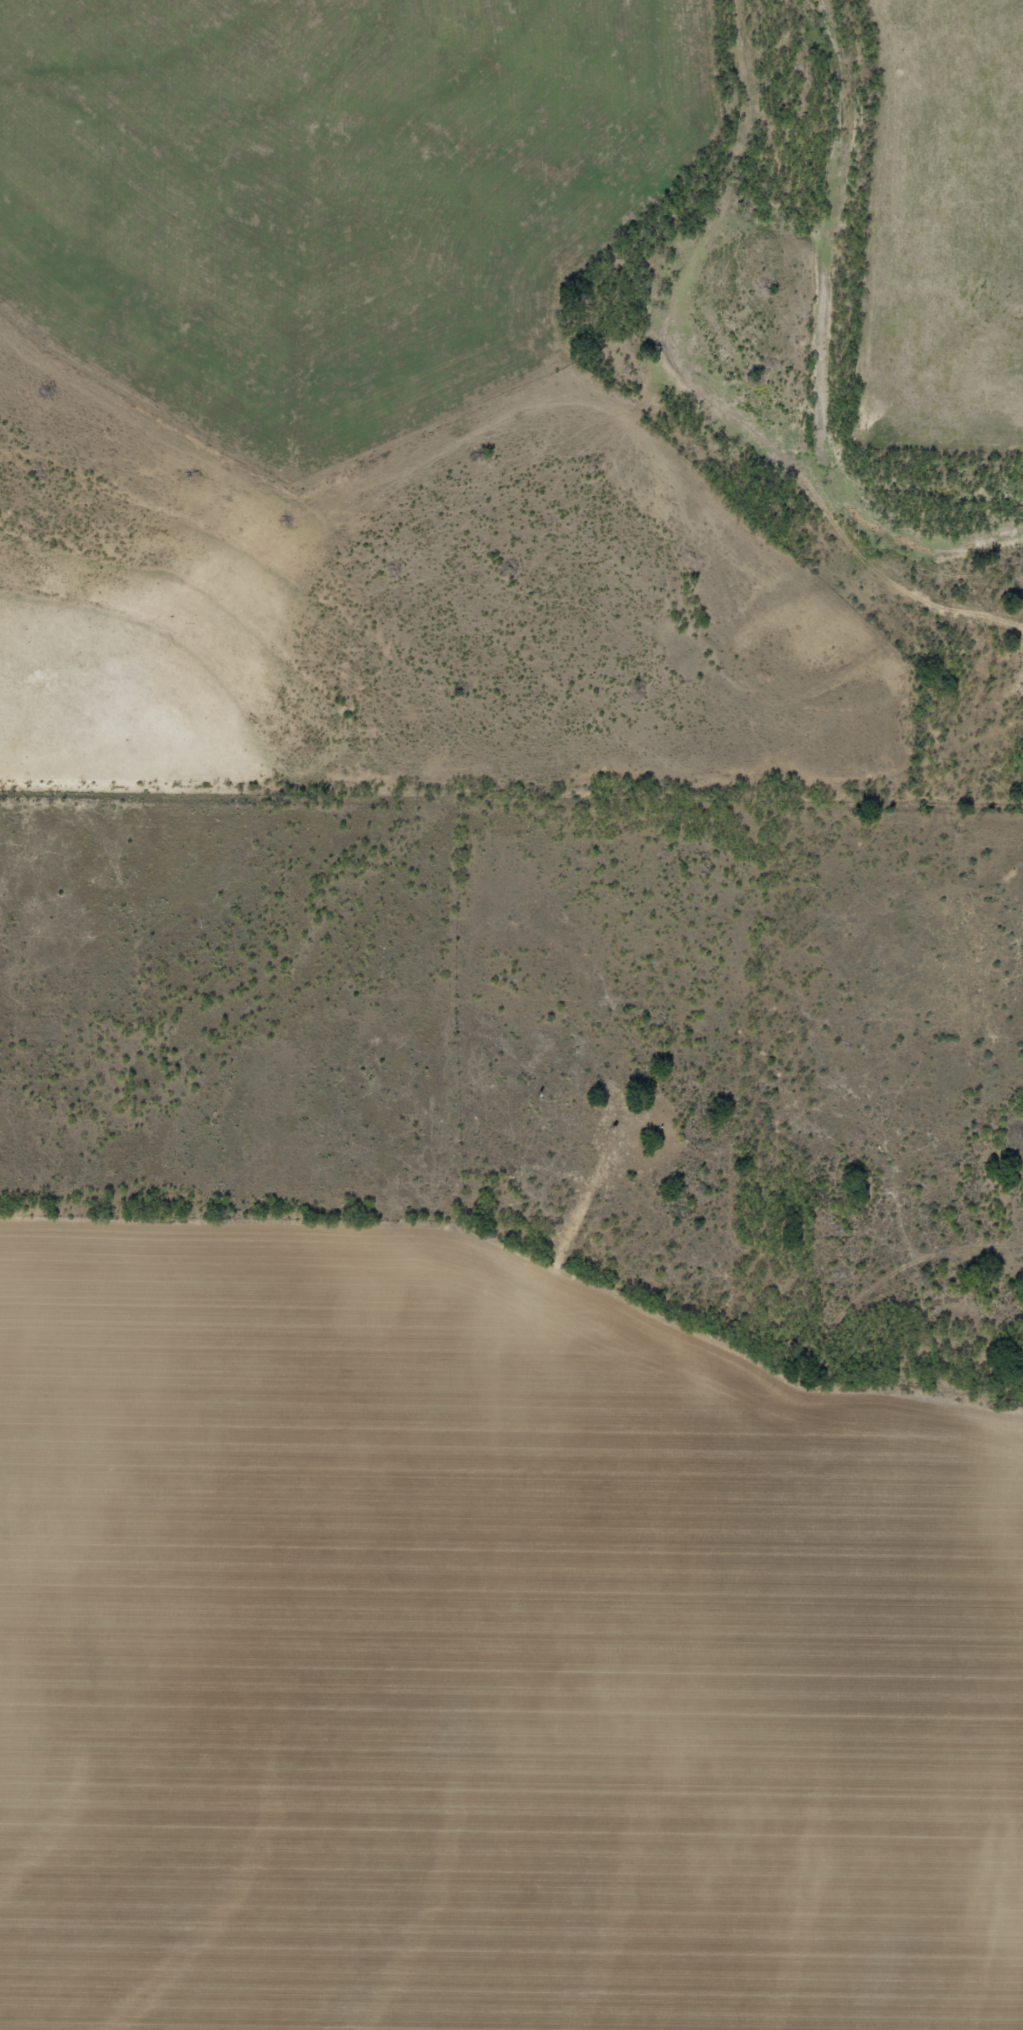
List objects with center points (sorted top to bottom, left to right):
road: (511, 821)

